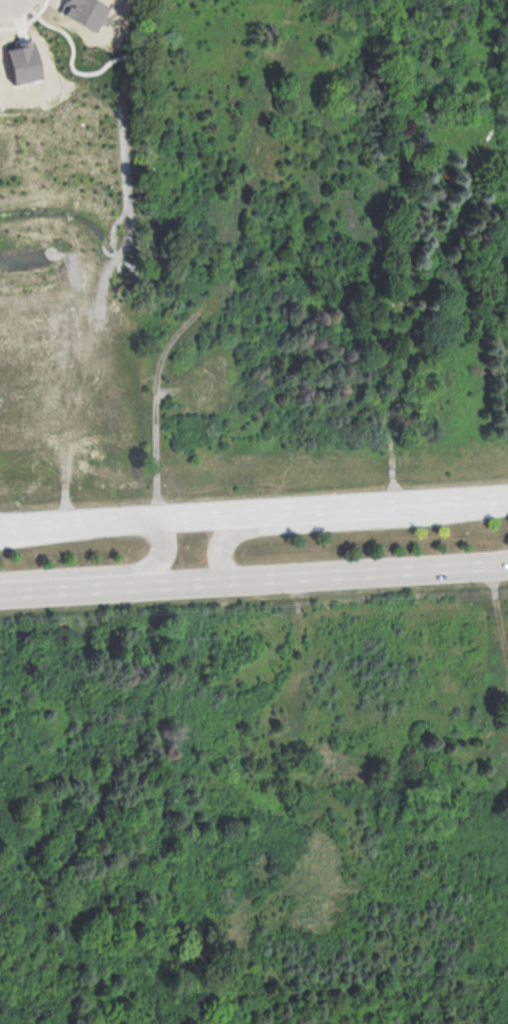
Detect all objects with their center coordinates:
road: (6, 2)
building: (84, 12)
road: (274, 16)
road: (288, 16)
building: (22, 63)
road: (125, 117)
road: (438, 248)
road: (222, 280)
road: (73, 421)
road: (471, 496)
road: (341, 504)
road: (201, 512)
road: (108, 517)
road: (32, 521)
road: (343, 524)
road: (49, 533)
road: (105, 569)
road: (378, 573)
road: (124, 588)
road: (500, 605)
road: (296, 688)

